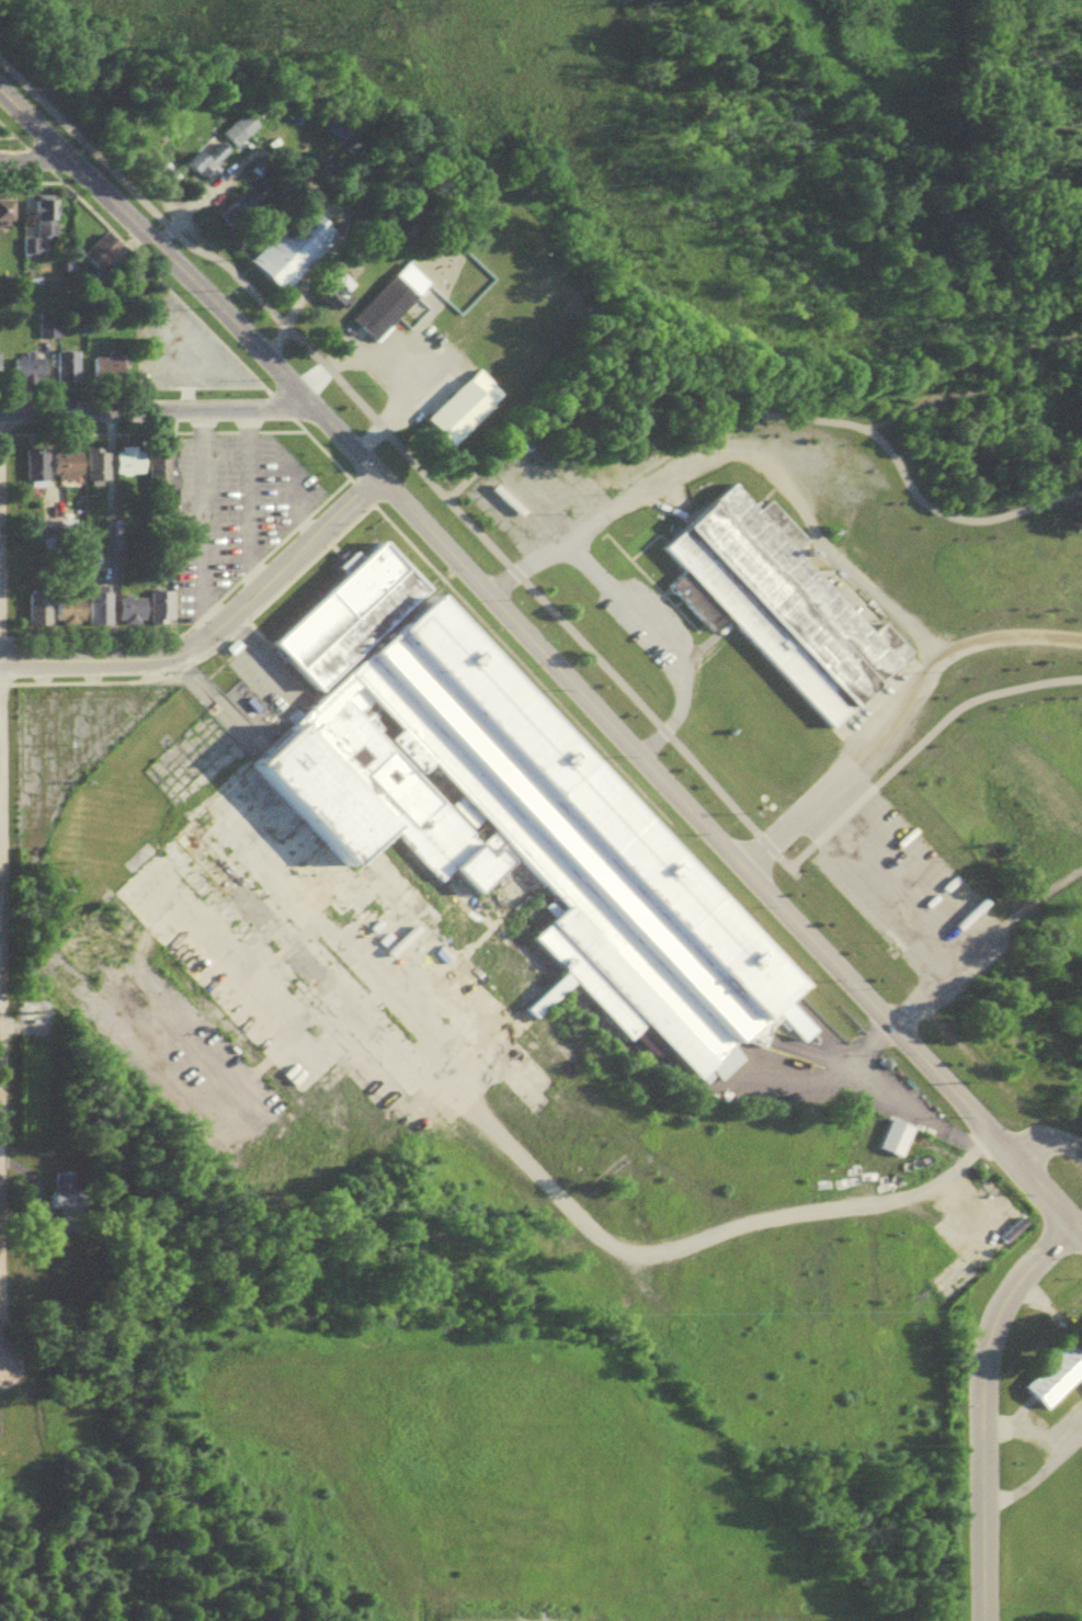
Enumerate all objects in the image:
building: (236, 126)
building: (242, 134)
building: (205, 157)
road: (33, 159)
building: (8, 216)
building: (47, 222)
building: (292, 243)
building: (106, 257)
building: (388, 299)
building: (47, 336)
building: (0, 371)
building: (69, 371)
building: (110, 372)
building: (30, 373)
road: (968, 385)
road: (390, 406)
building: (459, 406)
road: (157, 411)
road: (752, 415)
road: (399, 454)
road: (670, 454)
building: (69, 468)
building: (132, 468)
building: (100, 471)
building: (39, 477)
building: (162, 477)
road: (244, 502)
road: (299, 520)
road: (200, 522)
building: (44, 537)
building: (114, 540)
road: (825, 553)
building: (777, 604)
building: (103, 608)
building: (164, 612)
building: (135, 615)
building: (71, 616)
building: (42, 617)
road: (213, 630)
road: (1003, 635)
road: (661, 639)
road: (545, 660)
road: (916, 746)
building: (509, 806)
road: (886, 925)
building: (1016, 1033)
road: (851, 1061)
road: (854, 1080)
road: (931, 1123)
road: (1047, 1147)
building: (69, 1197)
road: (702, 1239)
building: (1050, 1384)
road: (986, 1409)
road: (1029, 1429)
road: (1036, 1482)

